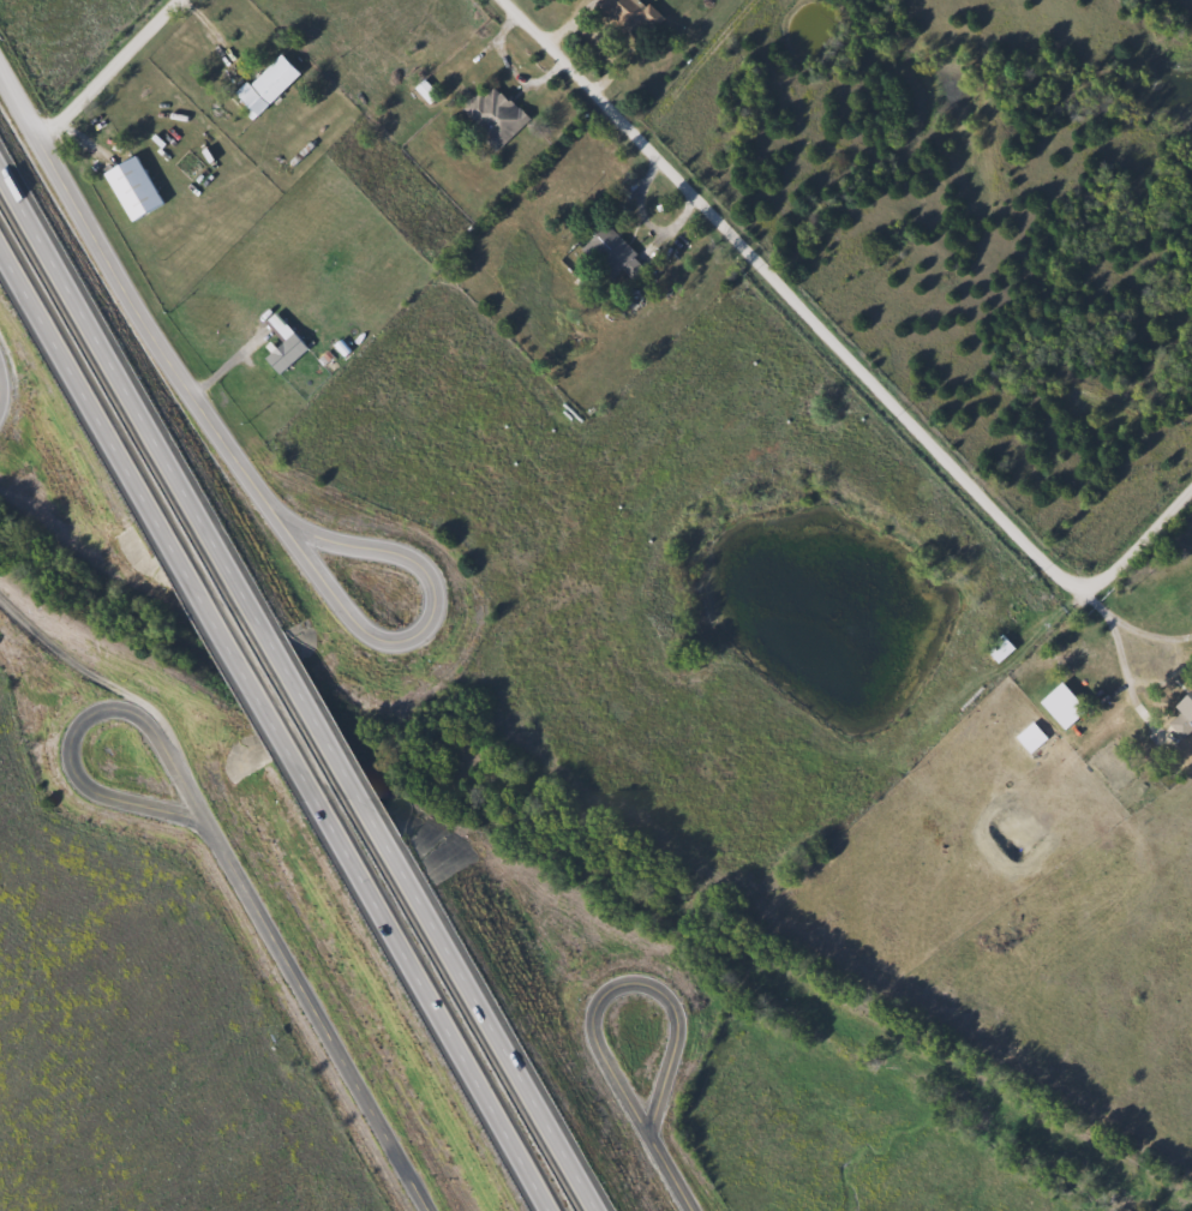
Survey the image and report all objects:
building: (635, 13)
road: (569, 20)
road: (210, 24)
road: (509, 67)
road: (112, 68)
building: (262, 85)
building: (423, 91)
building: (491, 115)
building: (130, 187)
road: (641, 220)
building: (604, 257)
road: (131, 289)
road: (846, 349)
building: (281, 353)
road: (77, 371)
road: (130, 385)
road: (1066, 623)
road: (227, 629)
road: (1149, 631)
road: (403, 637)
building: (996, 649)
road: (1124, 658)
building: (1059, 707)
building: (1181, 714)
road: (334, 756)
road: (121, 796)
road: (429, 981)
road: (628, 985)
road: (321, 1012)
road: (507, 1054)
road: (669, 1170)

